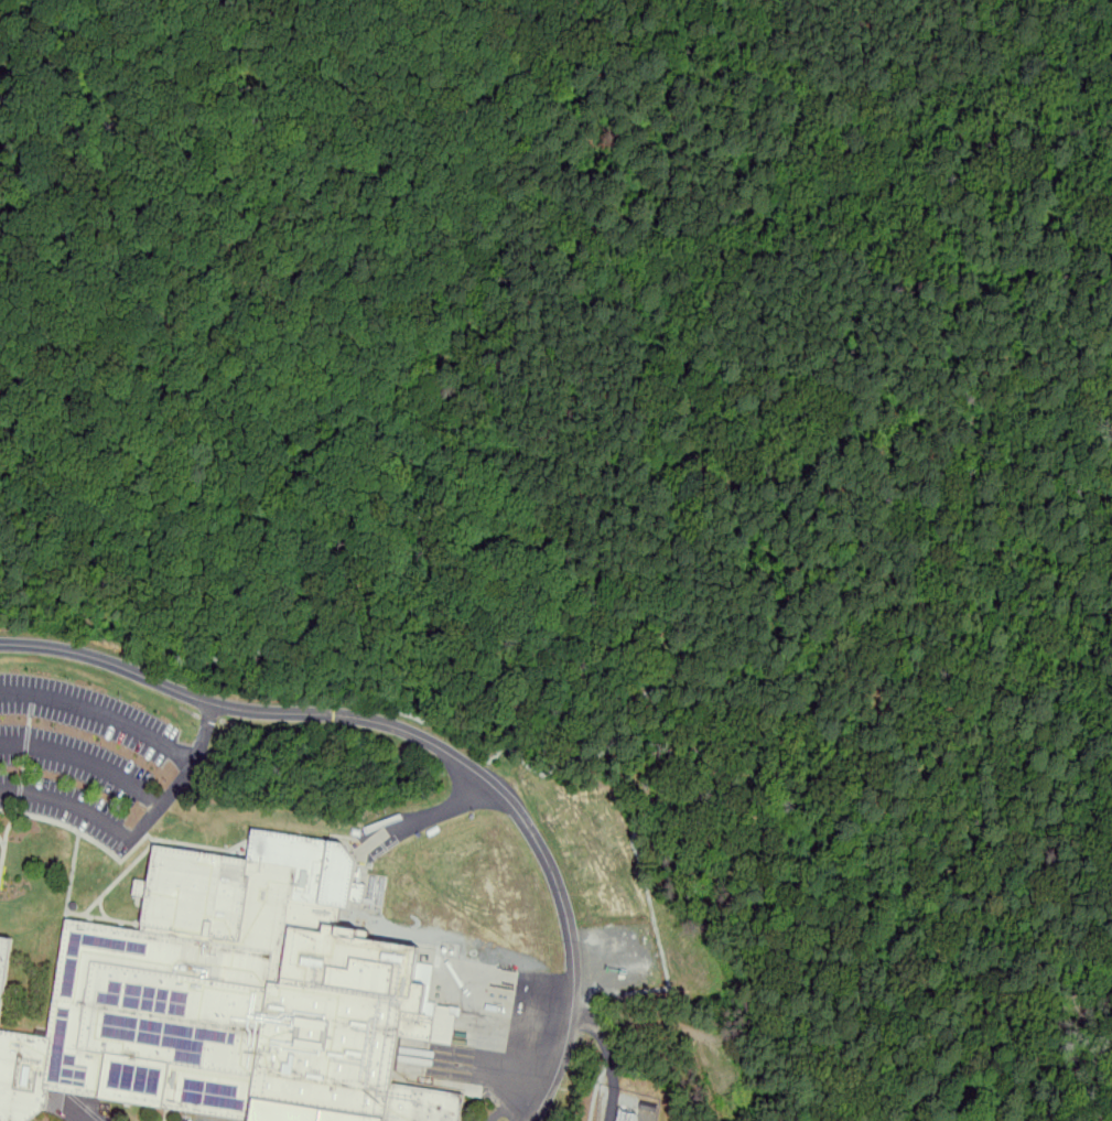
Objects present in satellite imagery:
road: (101, 710)
road: (429, 741)
road: (88, 757)
parking lot: (134, 784)
road: (436, 811)
road: (139, 830)
building: (2, 955)
building: (222, 1001)
road: (74, 1110)
building: (624, 1117)

